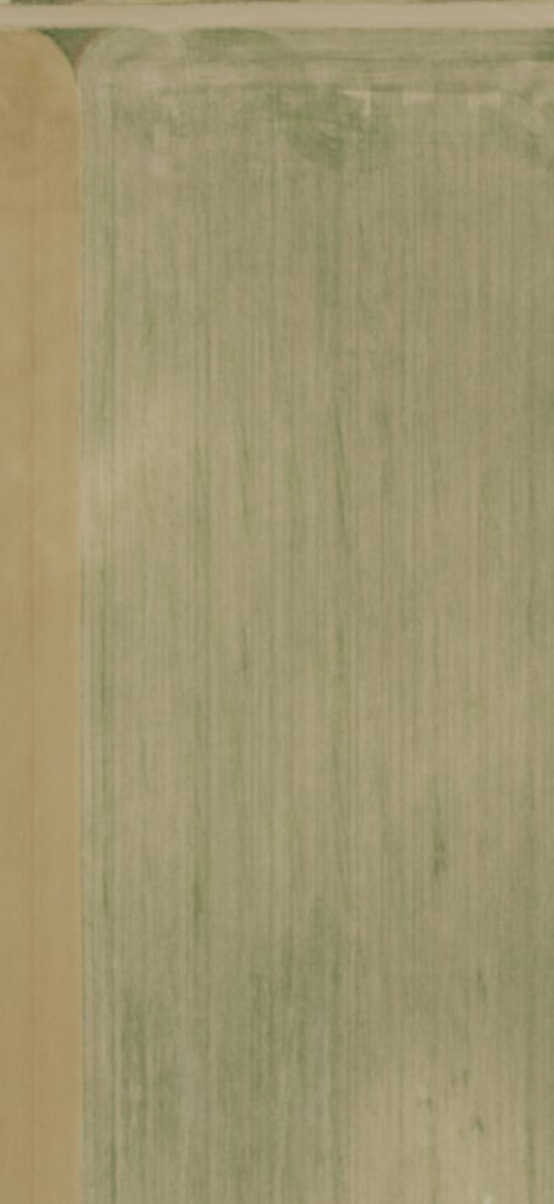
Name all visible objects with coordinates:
road: (277, 16)
crop: (277, 617)

